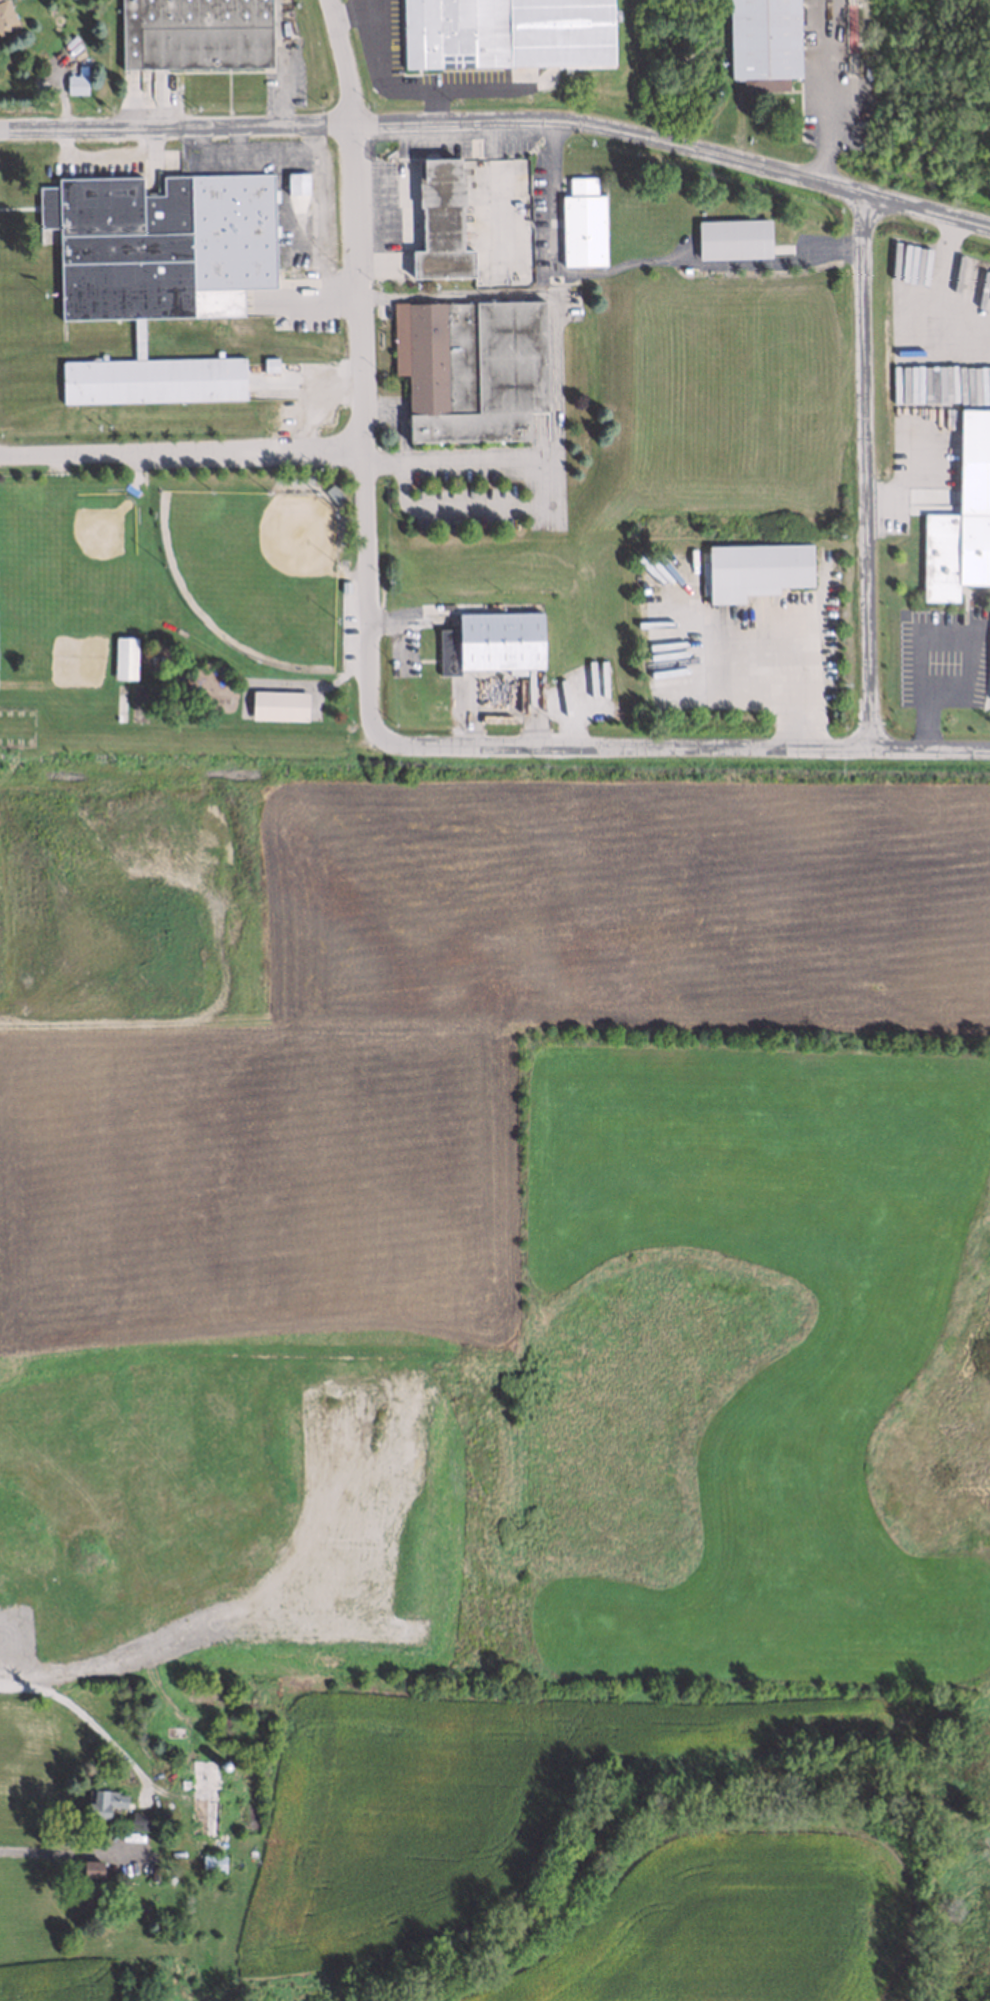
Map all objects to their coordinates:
road: (350, 12)
building: (5, 20)
building: (504, 32)
building: (194, 34)
building: (764, 40)
road: (389, 82)
building: (76, 83)
road: (282, 91)
road: (827, 92)
road: (501, 123)
building: (293, 182)
building: (438, 216)
building: (579, 223)
building: (731, 234)
road: (631, 260)
building: (155, 272)
road: (942, 284)
building: (269, 361)
building: (468, 369)
road: (553, 375)
road: (357, 376)
road: (180, 451)
road: (870, 481)
road: (904, 486)
building: (333, 495)
road: (480, 504)
building: (961, 516)
park: (70, 556)
building: (753, 566)
park: (256, 572)
park: (182, 613)
parking lot: (352, 626)
building: (489, 640)
building: (122, 656)
park: (76, 662)
road: (792, 684)
building: (276, 703)
road: (689, 757)
building: (200, 1691)
road: (88, 1720)
building: (170, 1731)
building: (222, 1768)
building: (198, 1795)
building: (100, 1802)
building: (137, 1820)
road: (43, 1850)
building: (209, 1861)
building: (151, 1873)
building: (87, 1887)

